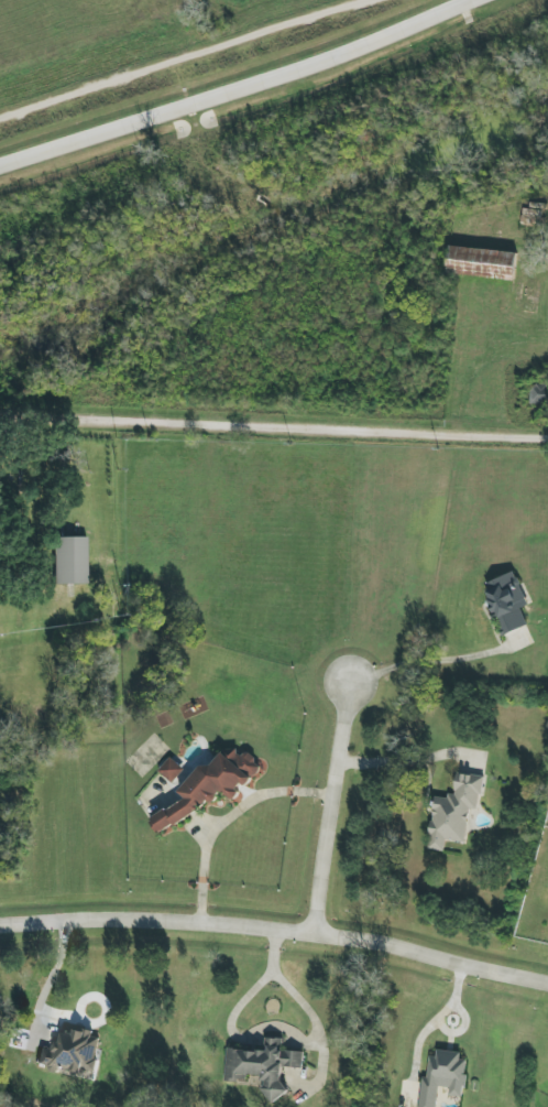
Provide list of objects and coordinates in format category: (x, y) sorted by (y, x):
road: (199, 59)
road: (244, 93)
river: (273, 226)
building: (481, 263)
road: (538, 352)
road: (273, 434)
road: (211, 452)
building: (67, 562)
building: (506, 603)
road: (434, 664)
road: (405, 762)
building: (169, 770)
building: (208, 786)
road: (331, 806)
building: (453, 812)
road: (229, 821)
road: (276, 930)
road: (46, 986)
road: (250, 994)
building: (68, 1051)
building: (262, 1065)
building: (441, 1076)

